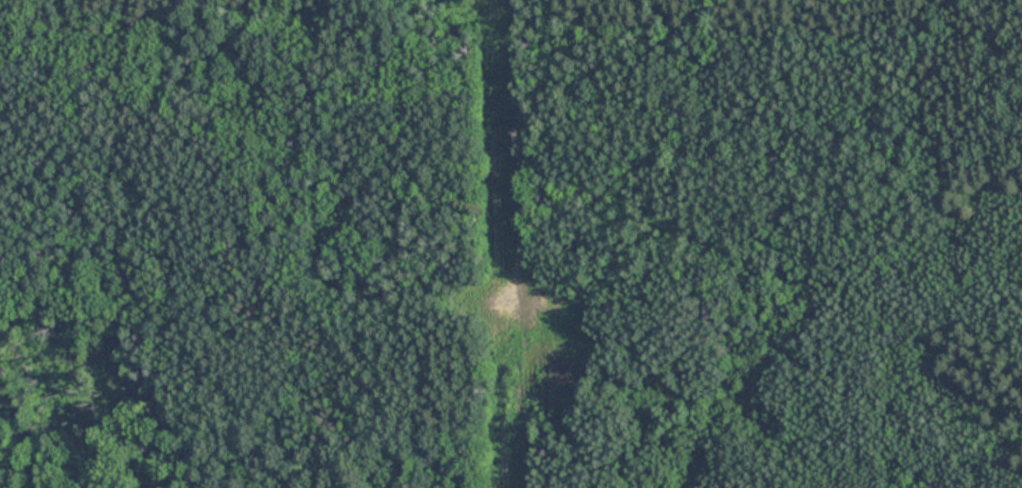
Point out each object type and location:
park: (511, 244)
road: (523, 244)

